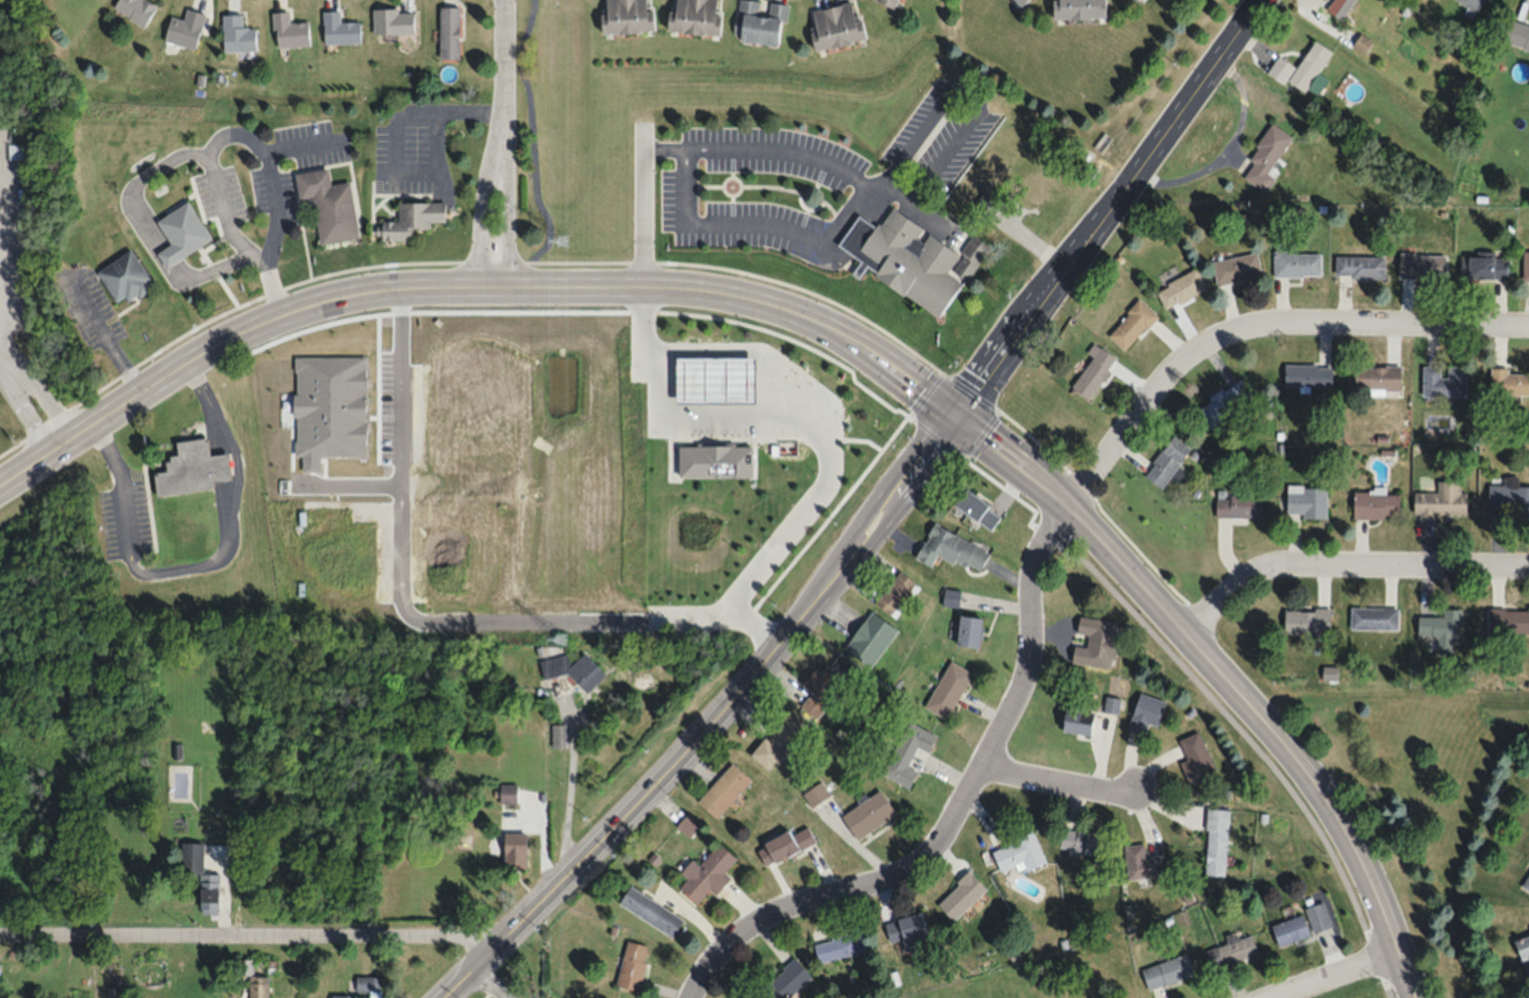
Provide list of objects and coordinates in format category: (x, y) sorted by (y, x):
building: (894, 1)
building: (1021, 2)
building: (1473, 3)
building: (1340, 7)
building: (1078, 8)
building: (134, 10)
building: (627, 16)
building: (695, 16)
building: (392, 21)
building: (759, 22)
building: (835, 24)
building: (184, 29)
building: (339, 29)
building: (288, 31)
building: (448, 32)
building: (1517, 33)
building: (236, 34)
building: (1362, 43)
building: (1301, 66)
road: (504, 78)
building: (1267, 156)
building: (1036, 188)
building: (328, 205)
road: (1107, 210)
road: (486, 219)
building: (409, 220)
road: (509, 220)
building: (181, 233)
power tower: (565, 241)
road: (4, 254)
building: (911, 259)
park: (23, 261)
building: (1295, 261)
building: (1422, 263)
building: (1359, 265)
building: (1525, 265)
building: (1487, 266)
building: (1236, 267)
building: (124, 277)
road: (471, 284)
building: (1180, 288)
building: (1132, 324)
road: (1370, 327)
road: (743, 349)
road: (0, 350)
building: (1093, 370)
building: (1308, 374)
building: (1377, 377)
building: (1443, 381)
building: (1509, 382)
building: (1225, 402)
road: (22, 406)
road: (808, 423)
building: (1166, 461)
building: (191, 469)
building: (1306, 500)
building: (1441, 500)
building: (1508, 500)
building: (1239, 504)
building: (1376, 504)
building: (977, 510)
building: (950, 549)
road: (206, 566)
road: (1343, 566)
building: (895, 592)
building: (950, 597)
road: (412, 617)
building: (1373, 618)
building: (1306, 619)
building: (1508, 619)
building: (1441, 624)
building: (968, 629)
building: (869, 637)
building: (1096, 641)
power tower: (564, 644)
building: (573, 669)
road: (1221, 682)
building: (819, 689)
building: (947, 689)
building: (1112, 704)
building: (1145, 712)
road: (1006, 718)
road: (715, 720)
building: (1079, 720)
building: (558, 735)
building: (777, 738)
building: (907, 752)
building: (1195, 756)
road: (1057, 781)
building: (722, 789)
building: (507, 793)
building: (814, 793)
park: (1416, 797)
building: (867, 814)
building: (687, 825)
building: (1081, 840)
building: (1216, 841)
building: (785, 844)
building: (514, 849)
building: (1018, 853)
building: (191, 855)
building: (1140, 862)
building: (706, 873)
building: (1526, 883)
building: (208, 893)
building: (960, 895)
building: (649, 910)
building: (1318, 915)
building: (1290, 929)
building: (906, 930)
road: (251, 933)
building: (839, 945)
building: (1524, 950)
building: (1230, 951)
building: (631, 965)
building: (1165, 972)
building: (154, 974)
road: (1340, 977)
building: (784, 980)
road: (490, 984)
building: (257, 986)
building: (360, 988)

